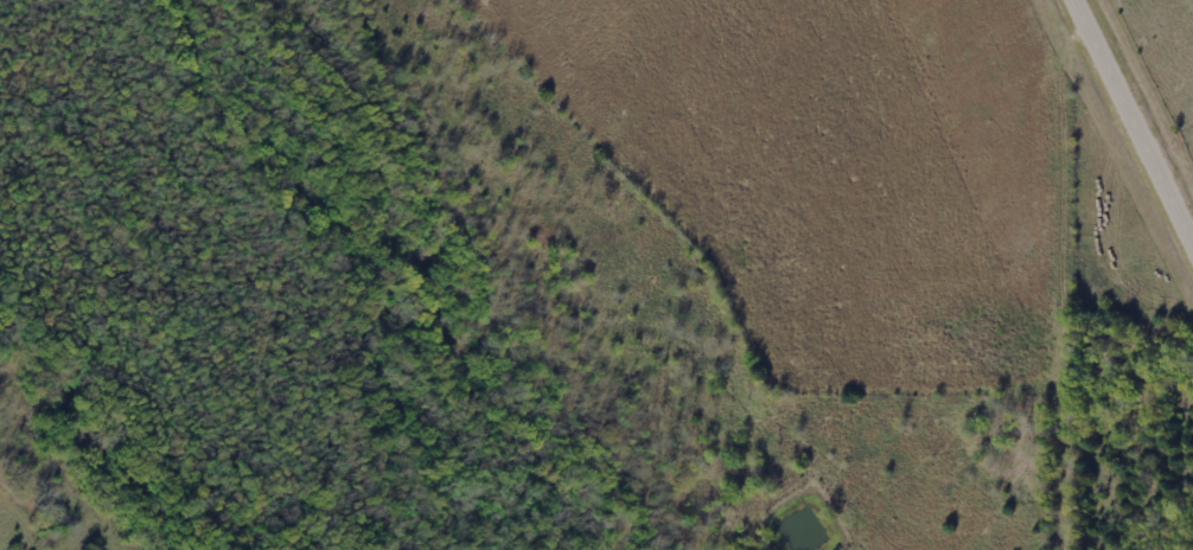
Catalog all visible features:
road: (1130, 127)

